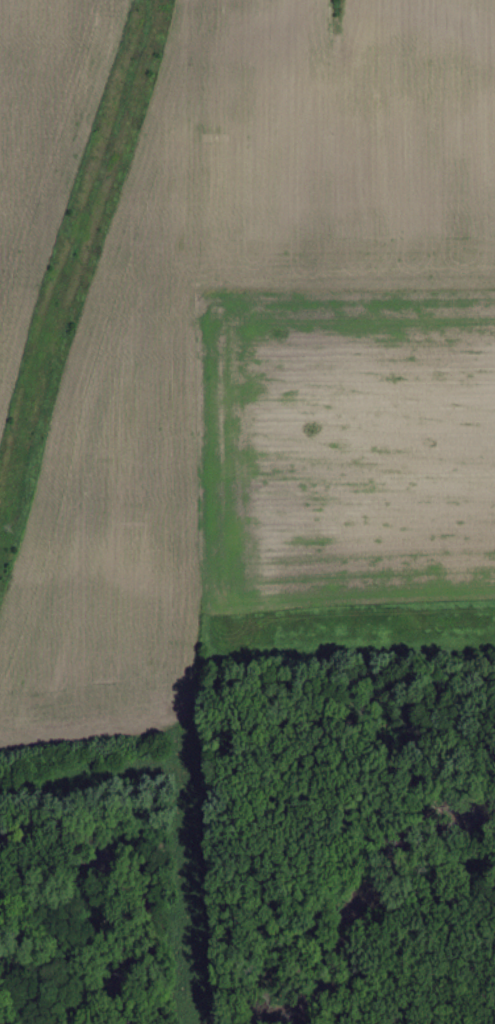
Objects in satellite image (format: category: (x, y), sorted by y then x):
crop: (43, 146)
crop: (270, 357)

